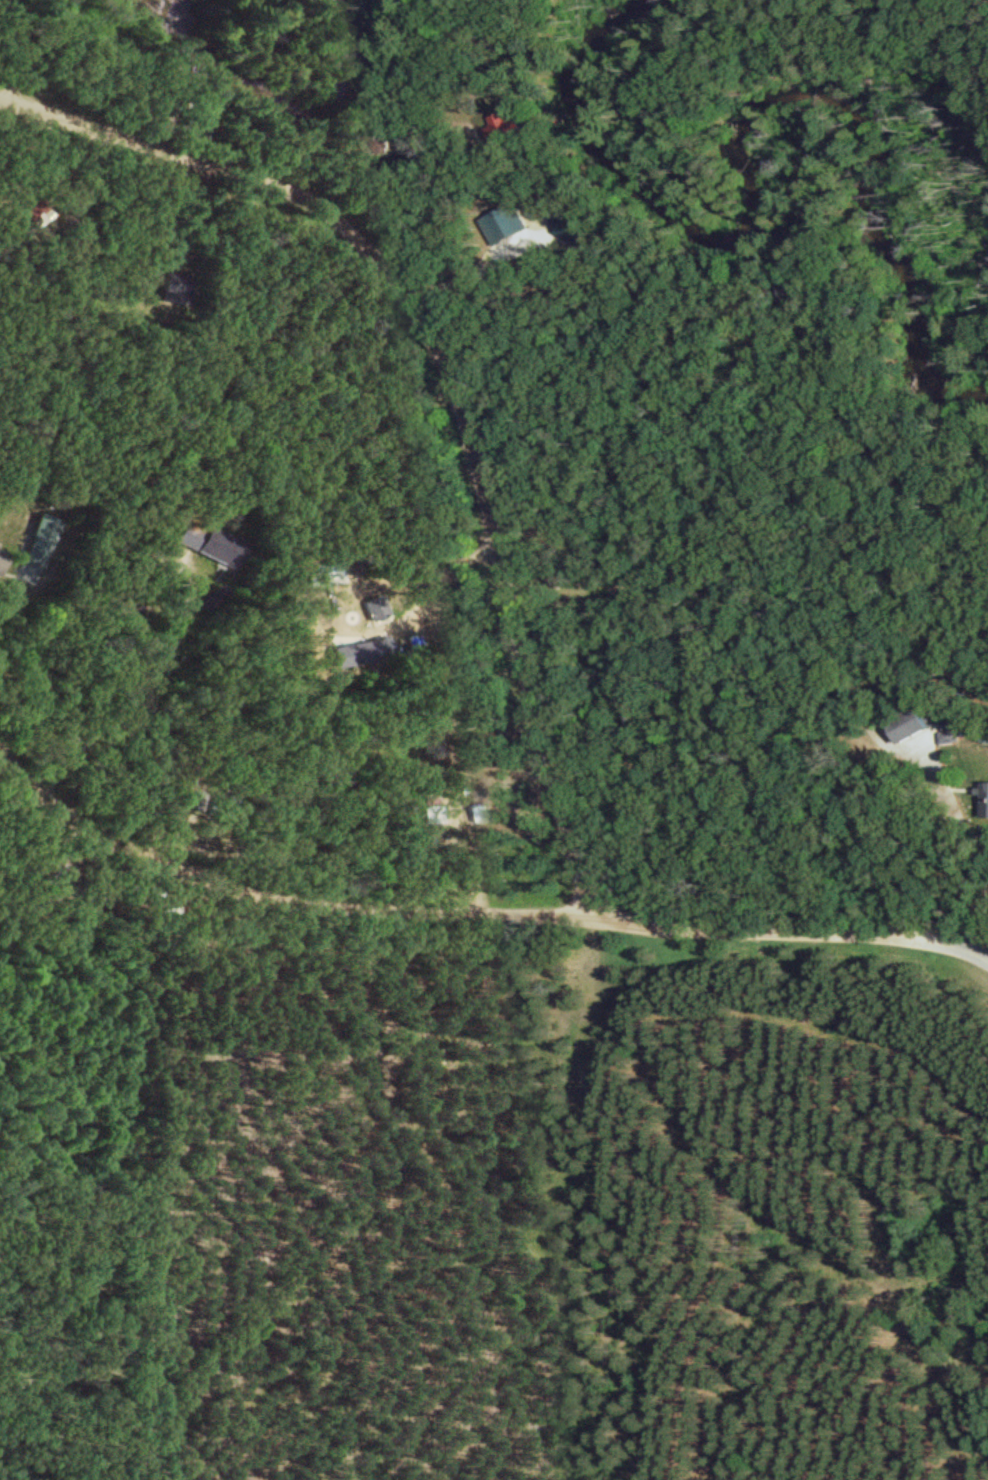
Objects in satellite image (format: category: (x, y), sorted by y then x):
river: (273, 77)
river: (773, 149)
road: (451, 379)
building: (186, 533)
building: (41, 540)
building: (221, 546)
building: (2, 558)
building: (383, 645)
building: (914, 722)
building: (480, 812)
road: (278, 903)
road: (794, 931)

